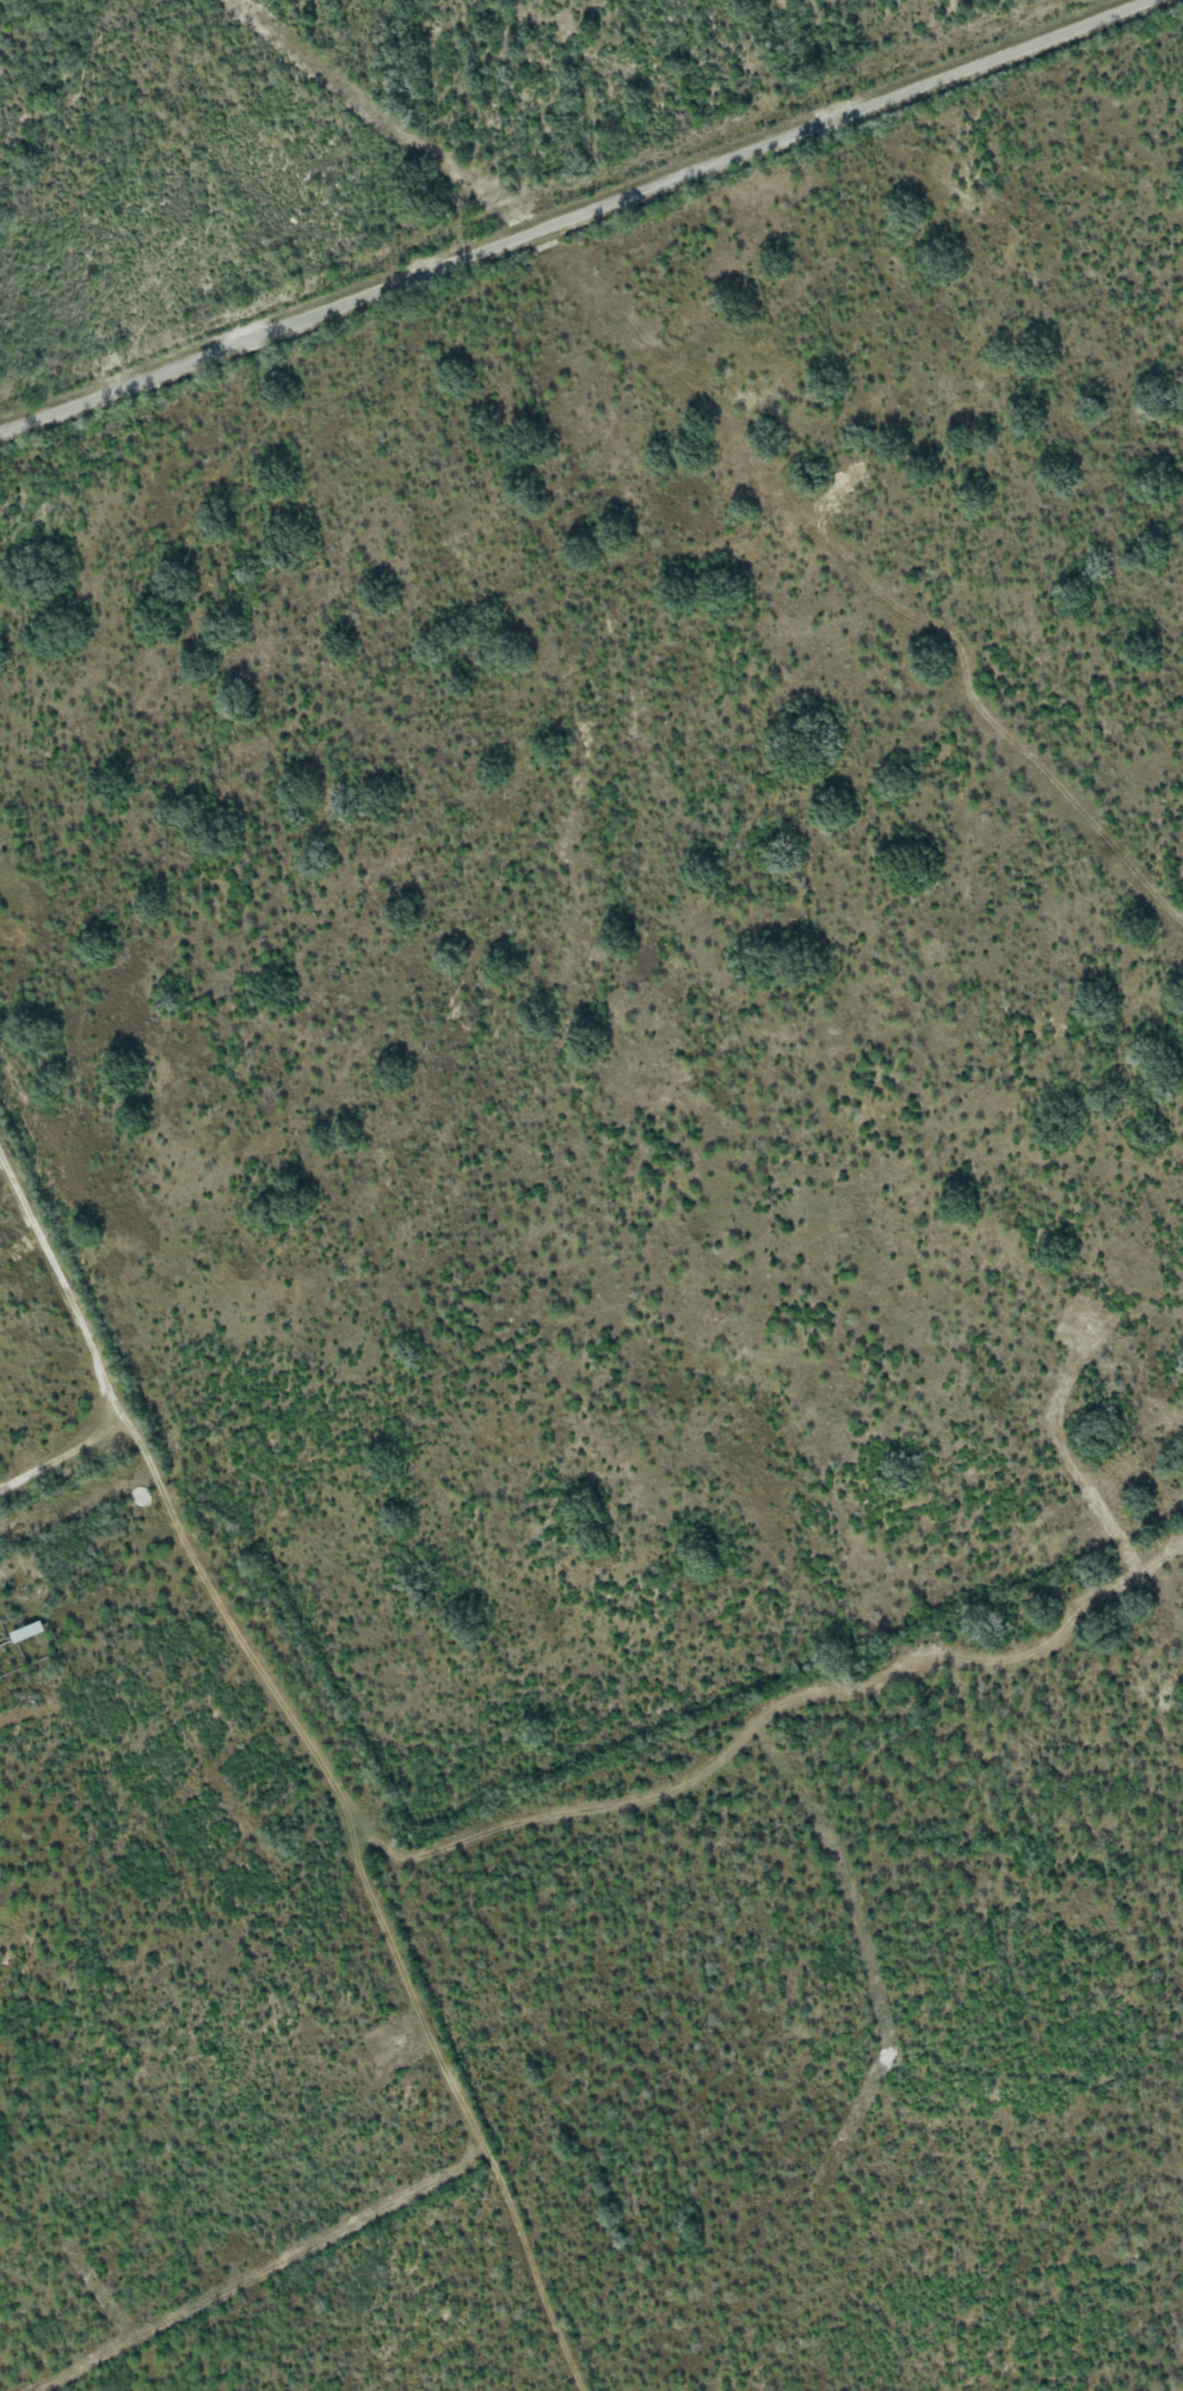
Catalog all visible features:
road: (585, 218)
building: (26, 1631)

